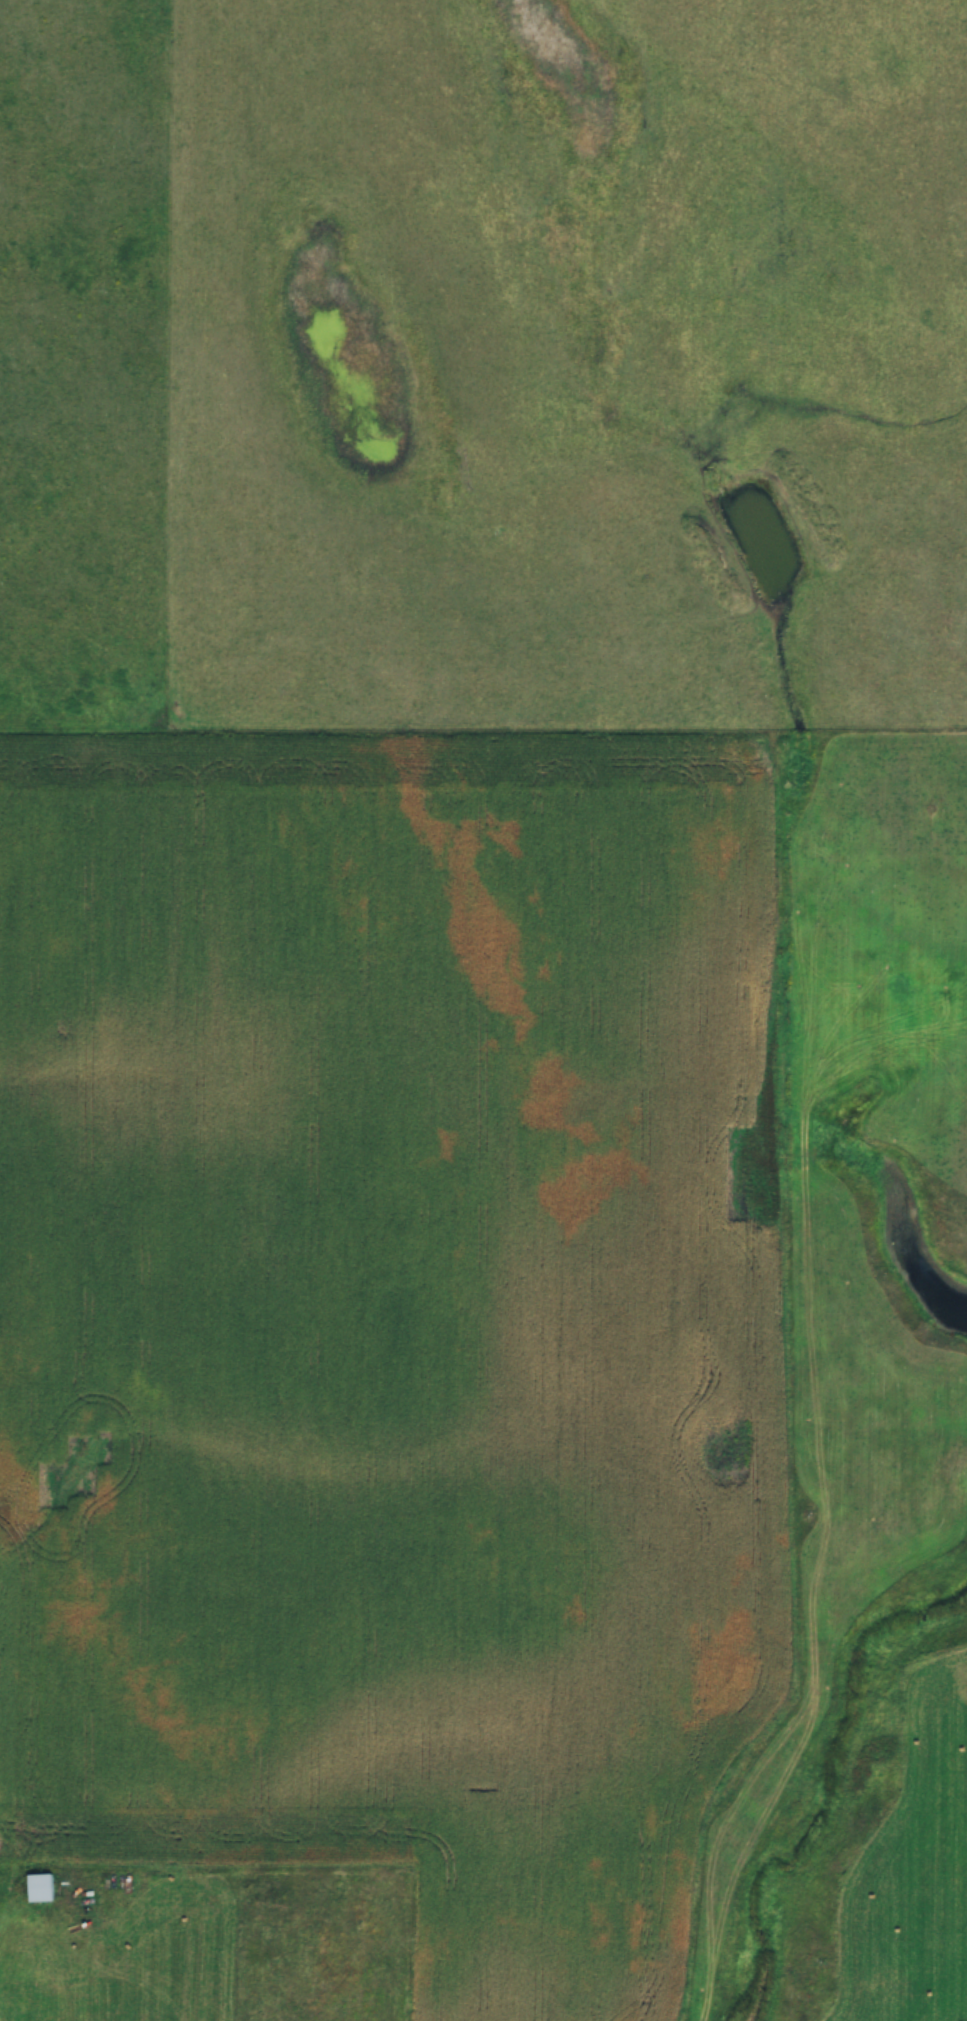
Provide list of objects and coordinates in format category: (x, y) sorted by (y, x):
building: (39, 1885)

